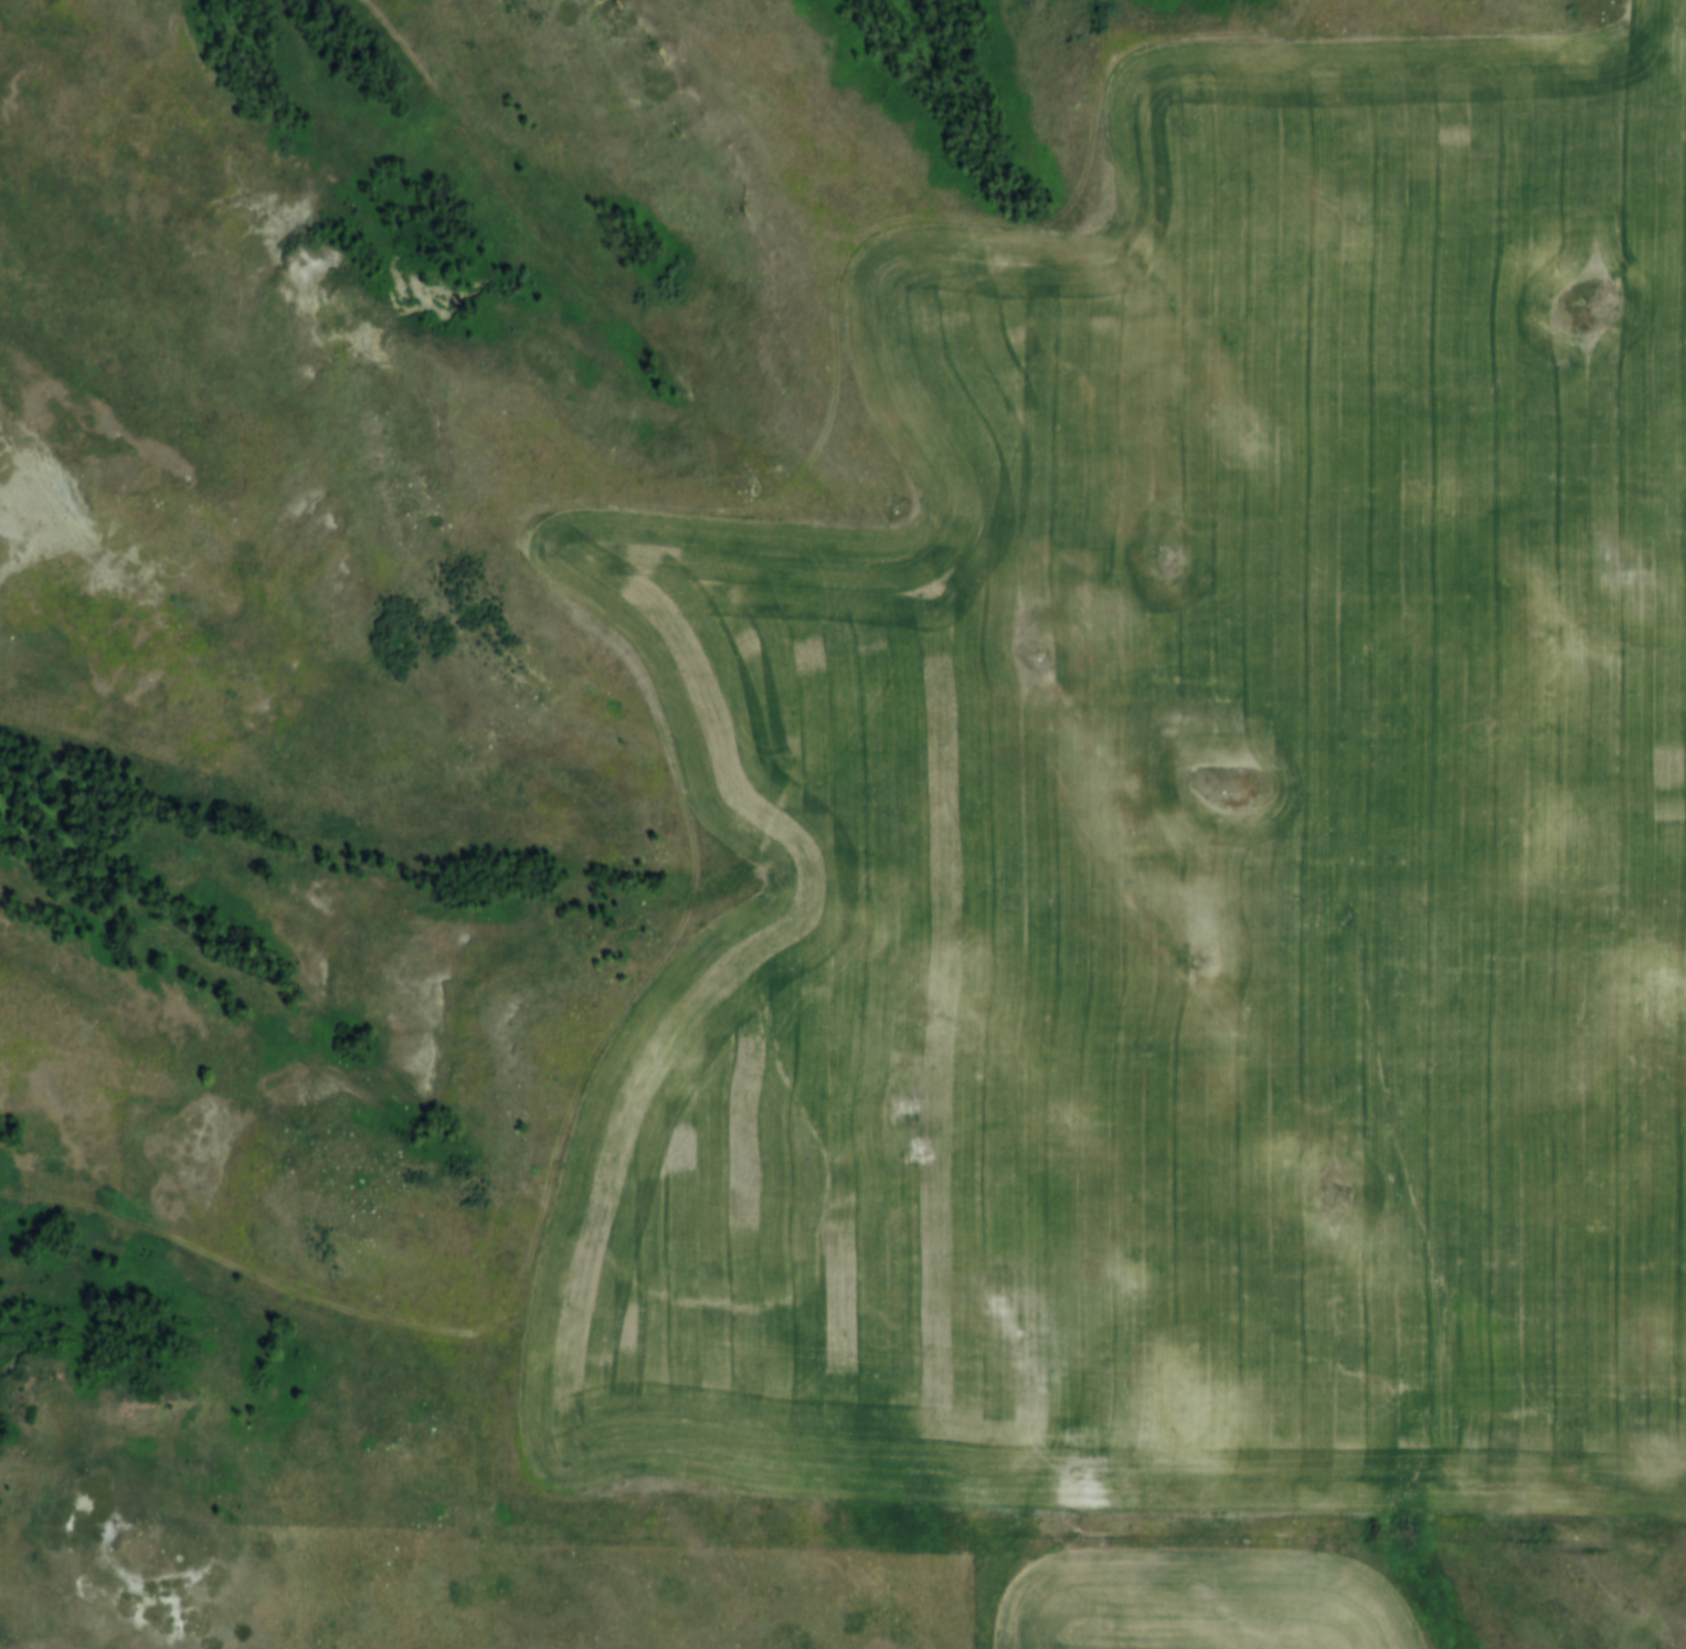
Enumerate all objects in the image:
road: (192, 1245)

